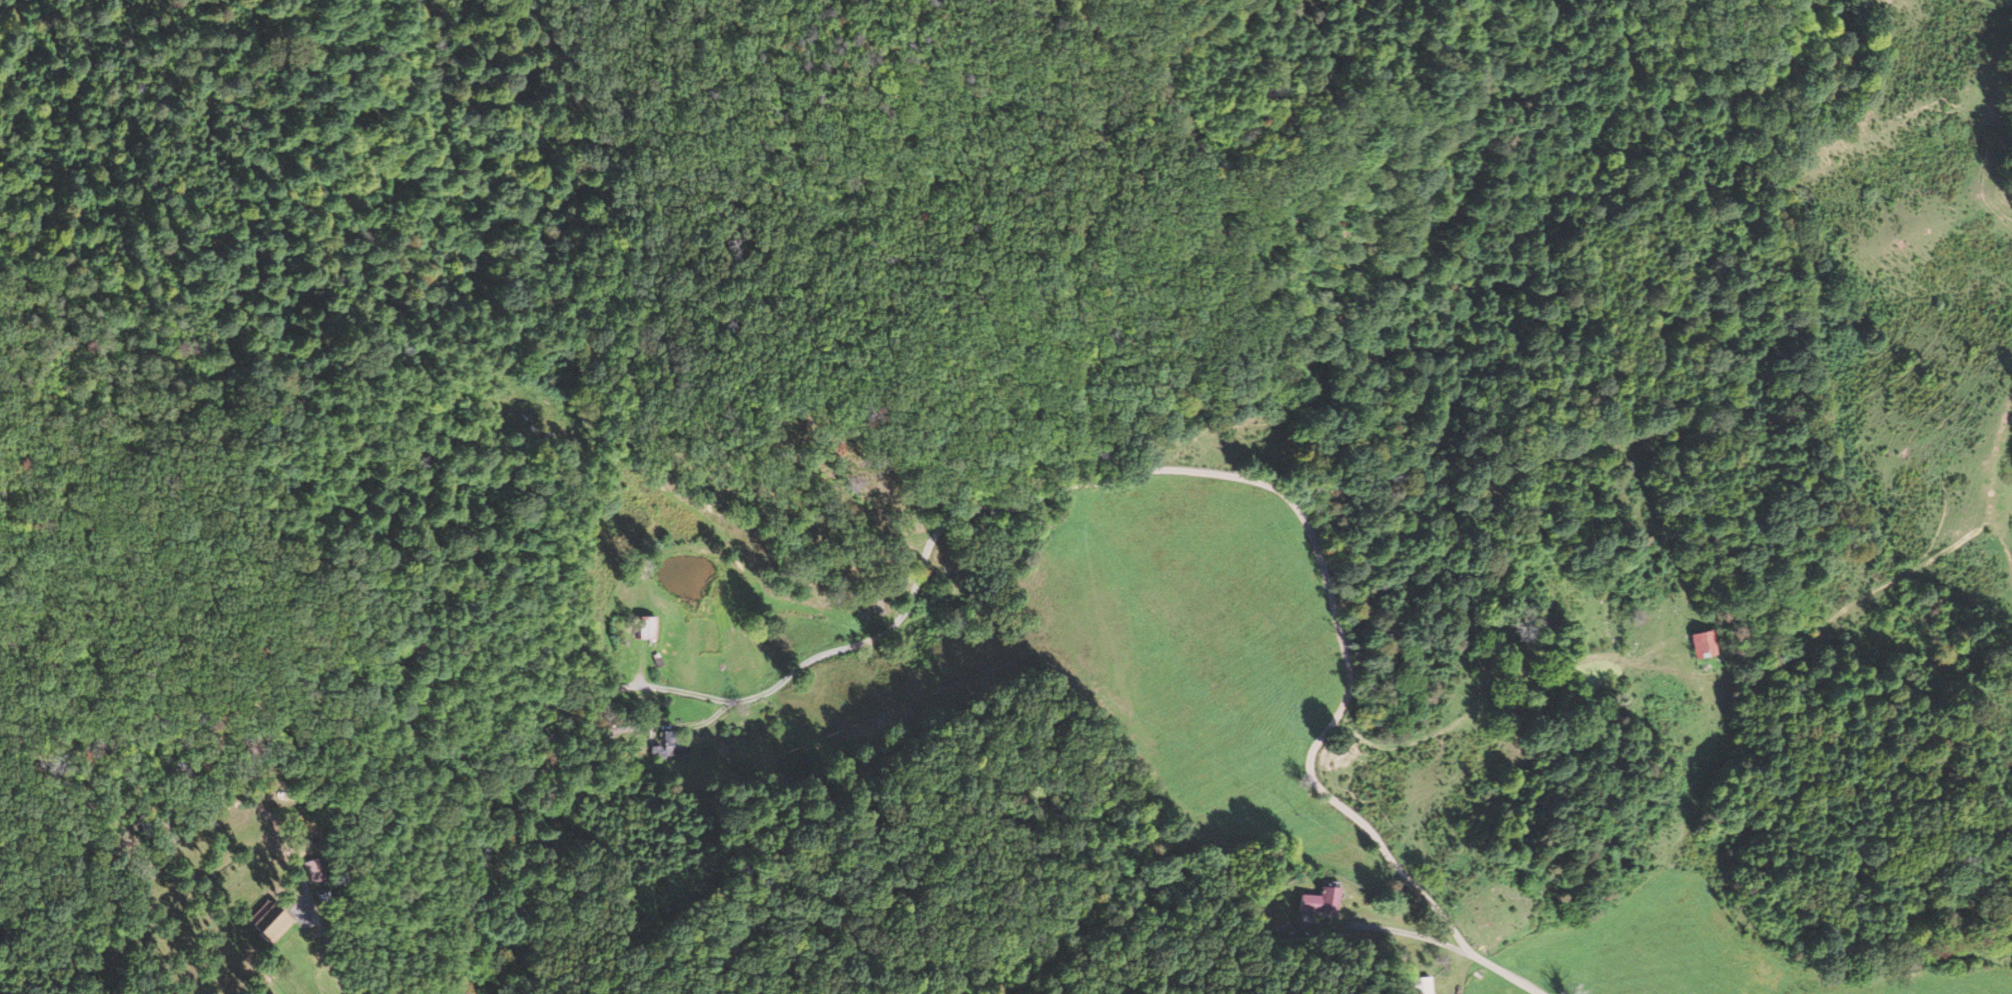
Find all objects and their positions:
road: (1035, 537)
building: (1689, 645)
road: (1399, 742)
building: (314, 873)
building: (1323, 901)
building: (274, 921)

